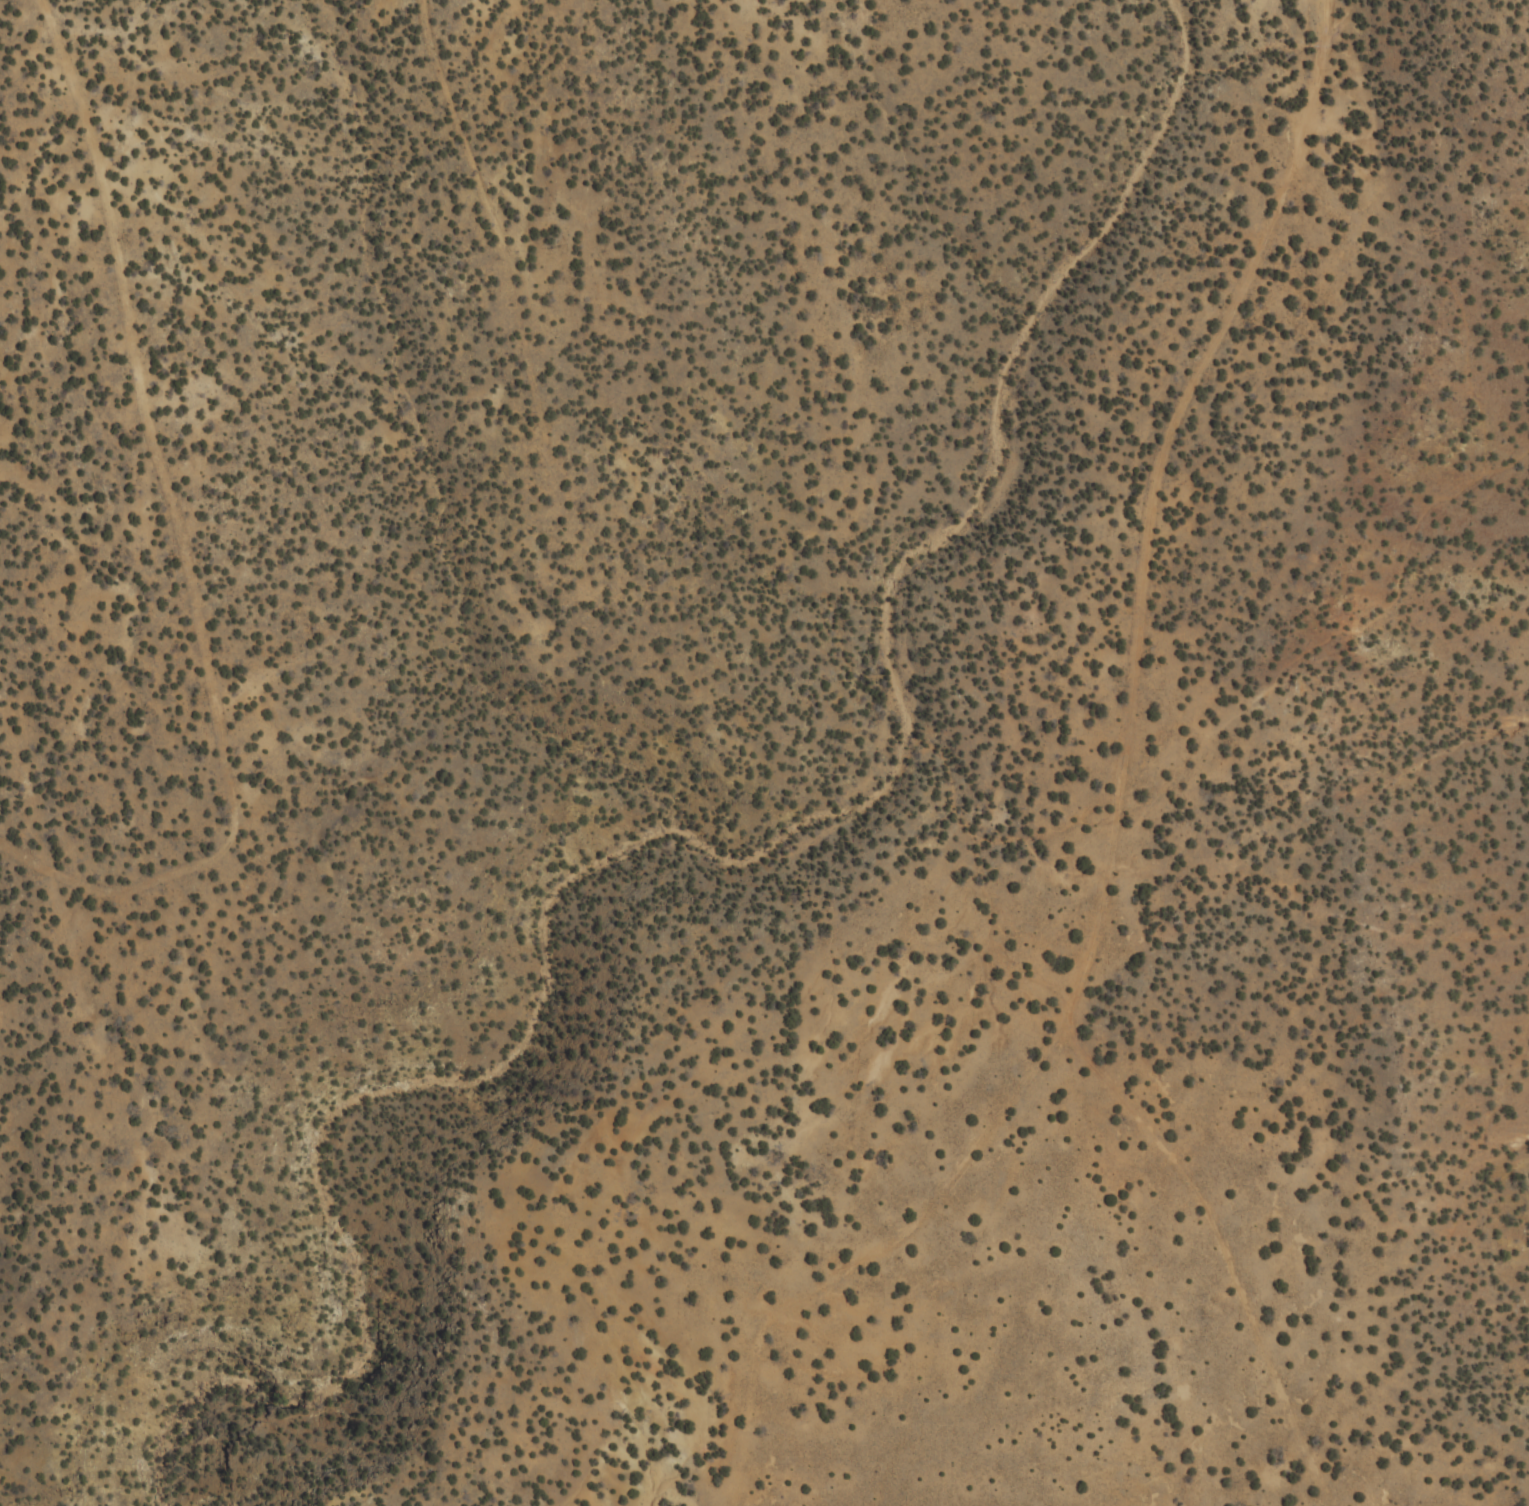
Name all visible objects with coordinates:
road: (1134, 768)

